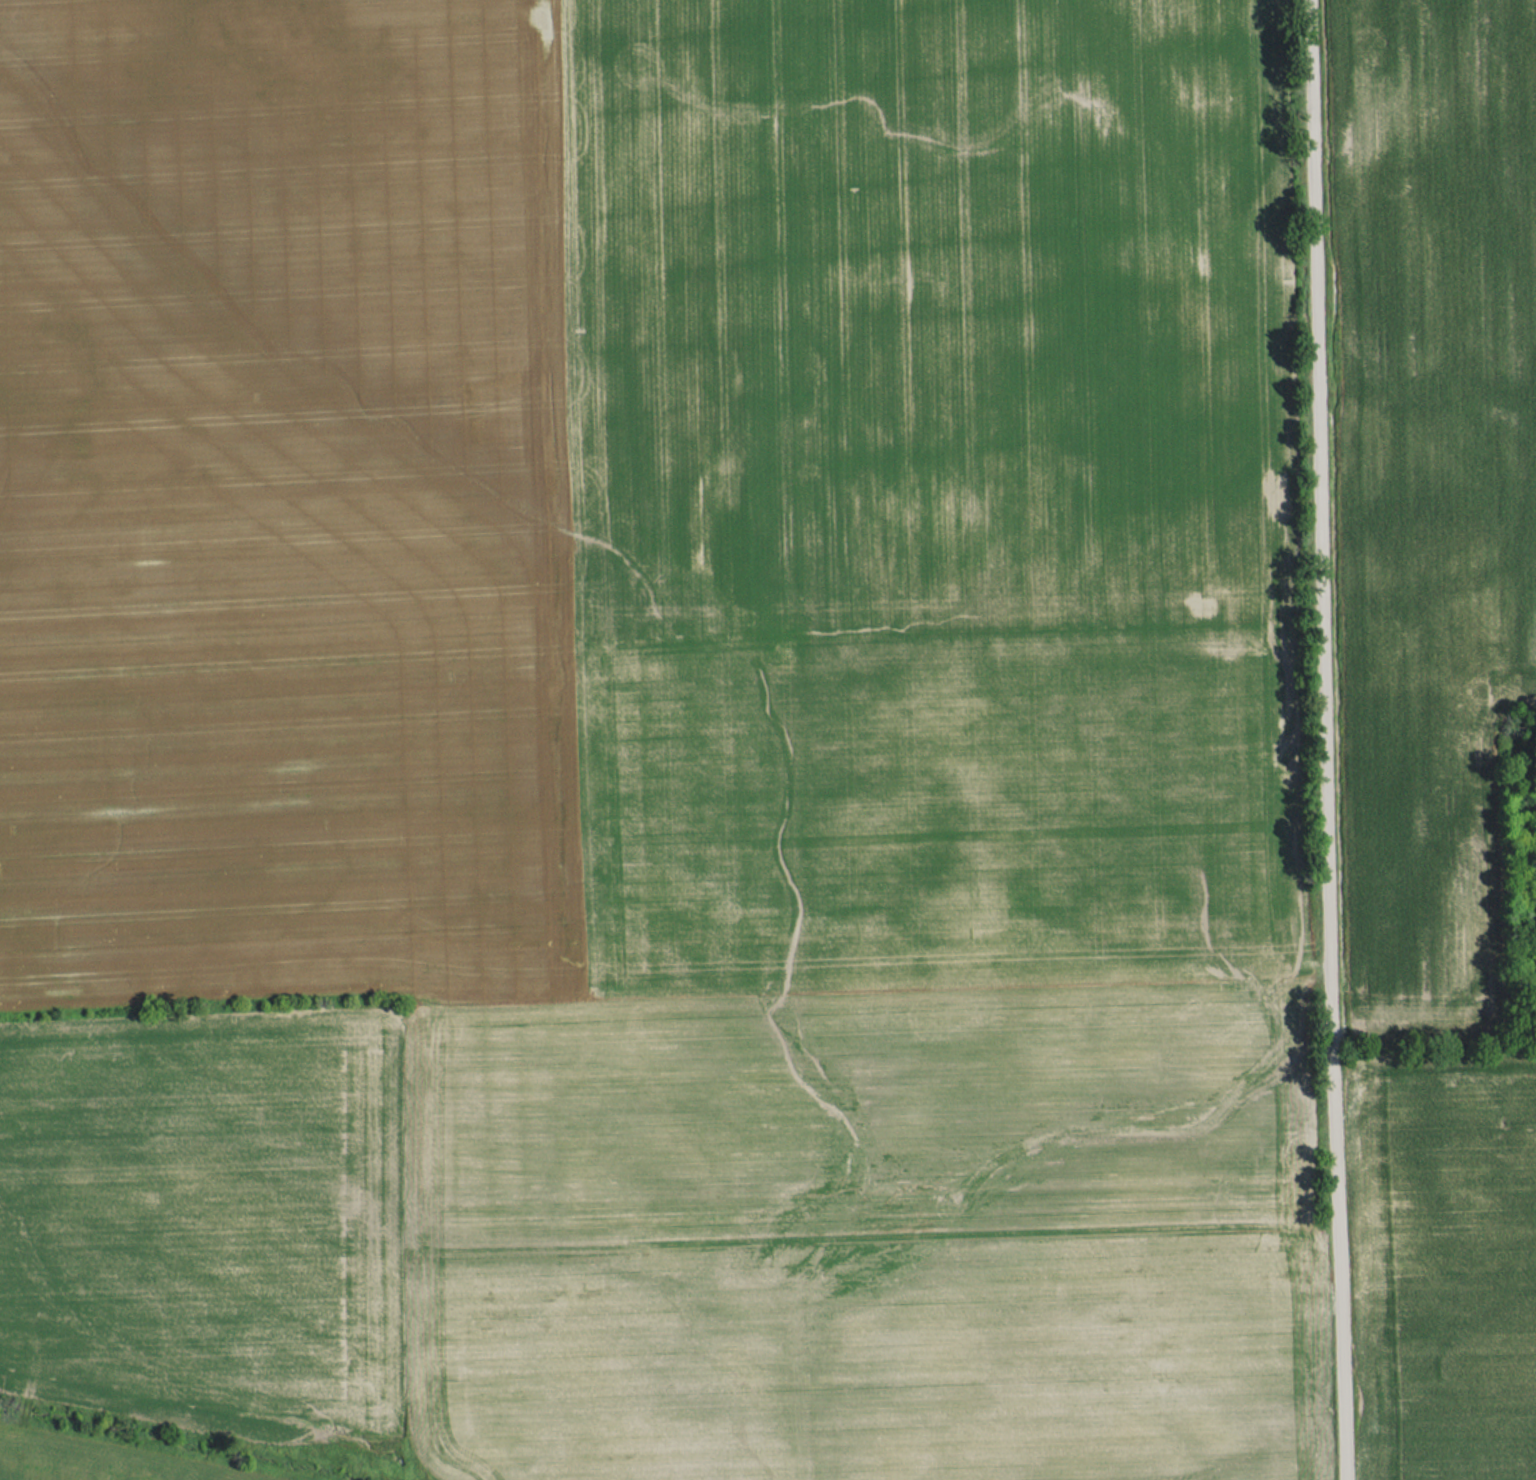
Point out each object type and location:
road: (1329, 740)

